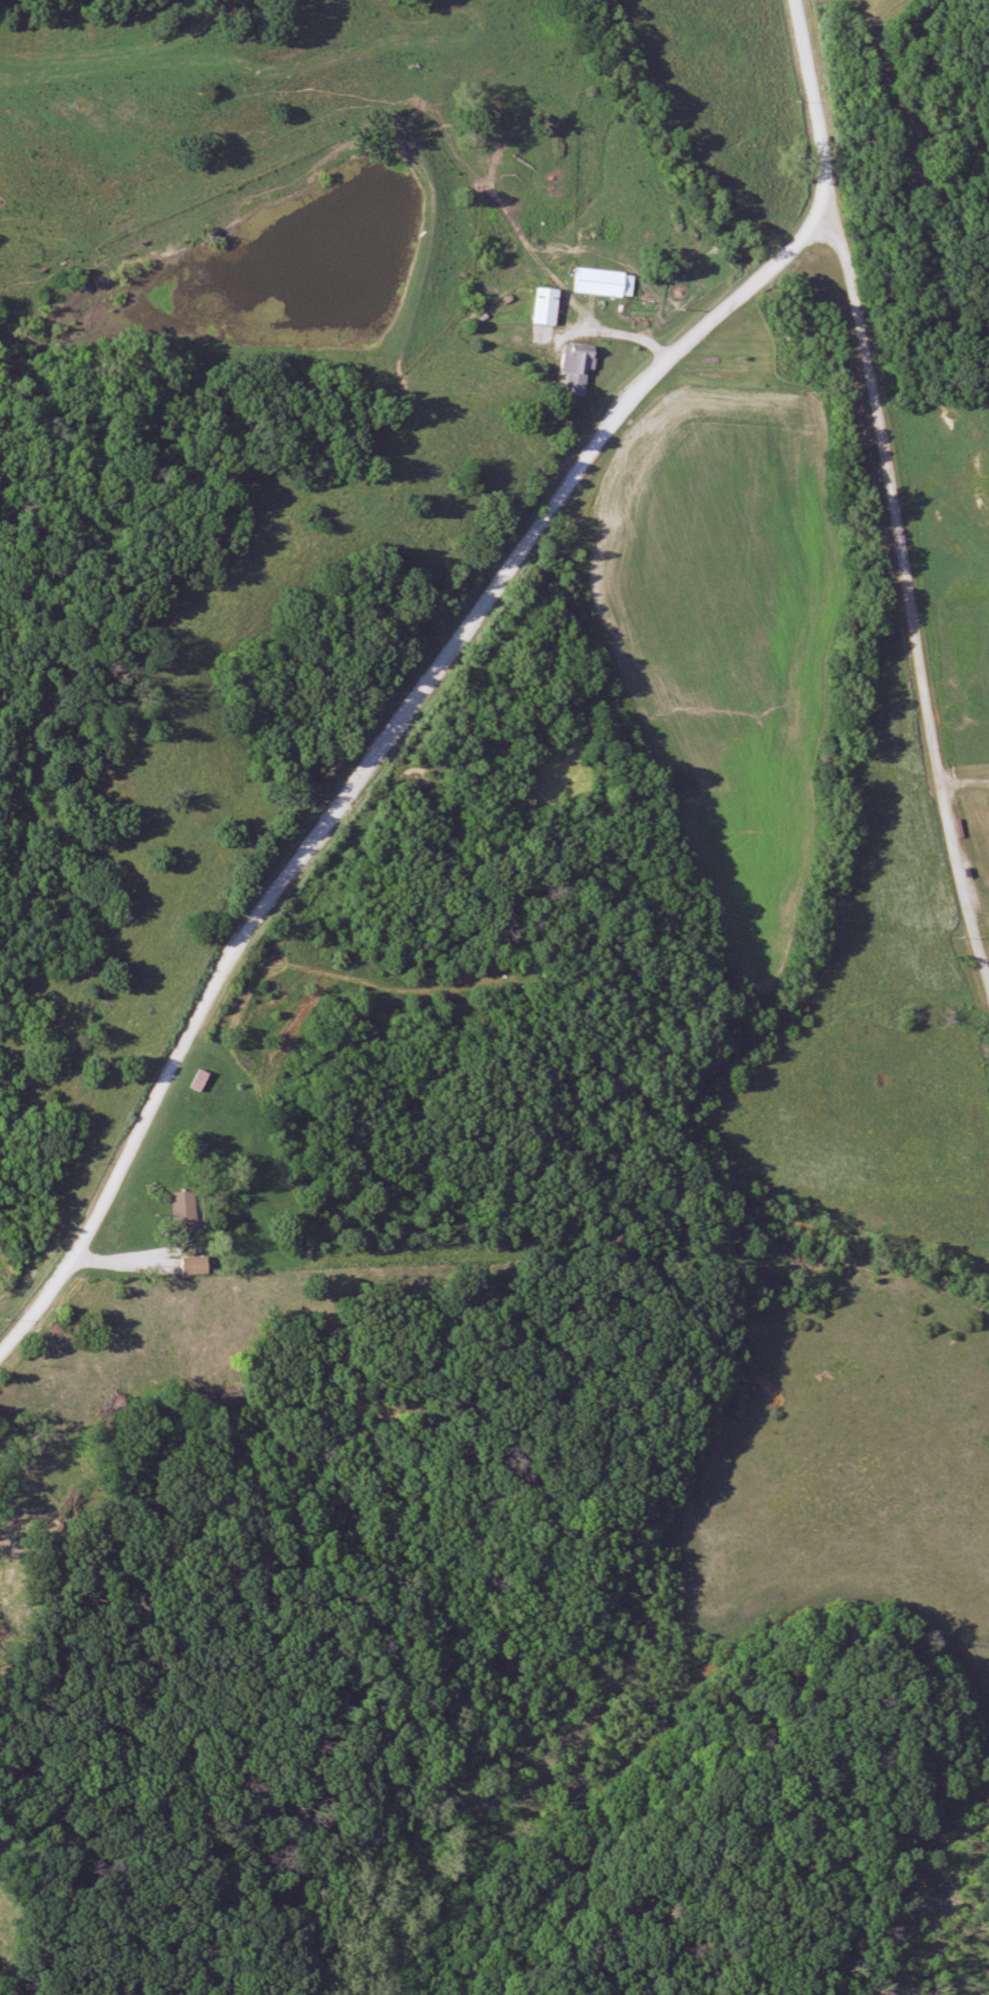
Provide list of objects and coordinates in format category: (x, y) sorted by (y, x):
road: (819, 228)
building: (606, 282)
building: (548, 306)
road: (616, 331)
building: (578, 368)
road: (887, 503)
road: (366, 762)
road: (986, 981)
building: (201, 1081)
building: (185, 1210)
building: (195, 1266)

